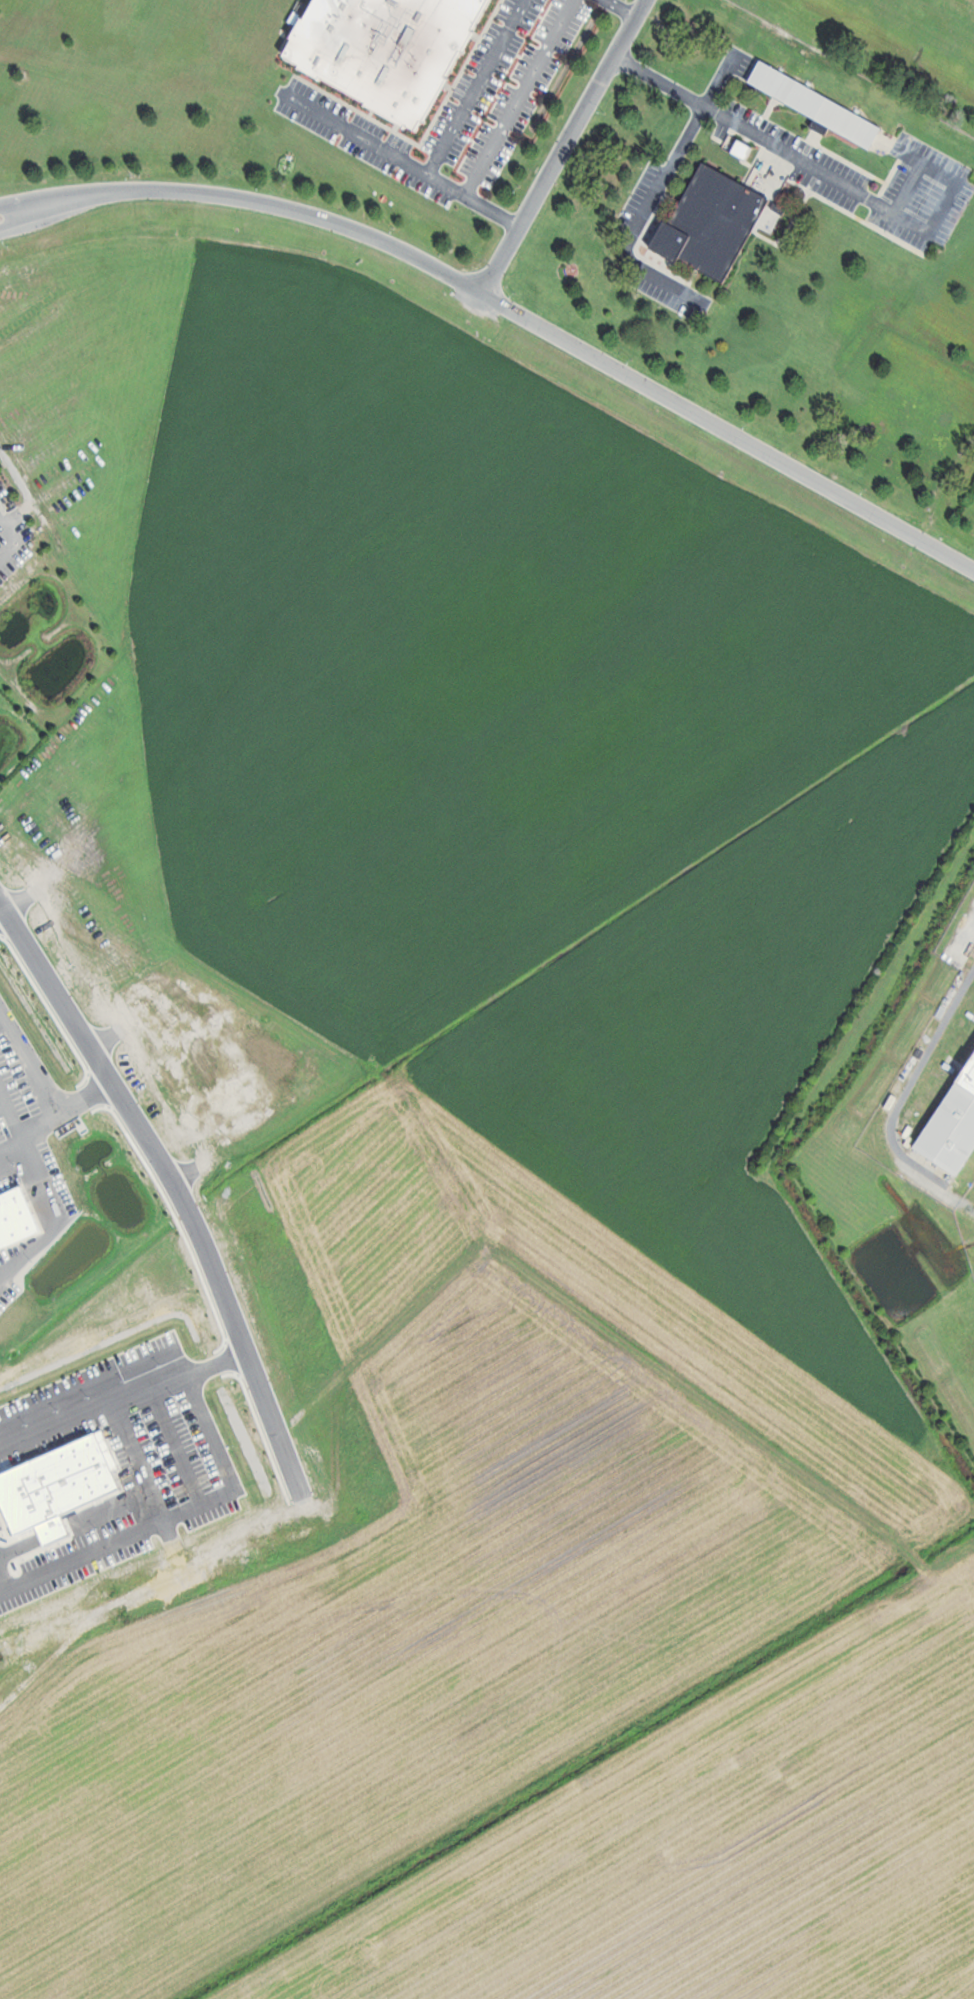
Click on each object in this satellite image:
road: (622, 9)
building: (389, 50)
road: (476, 87)
building: (828, 110)
road: (565, 147)
road: (406, 162)
road: (839, 181)
road: (658, 191)
building: (713, 223)
road: (506, 309)
road: (909, 1089)
building: (956, 1133)
road: (174, 1184)

